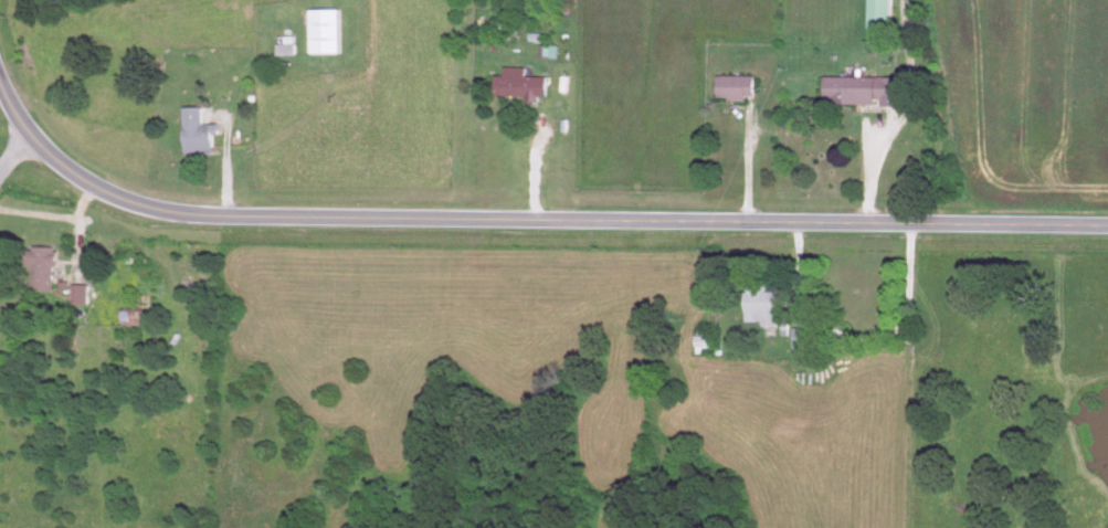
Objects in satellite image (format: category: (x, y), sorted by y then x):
building: (874, 14)
building: (321, 32)
building: (515, 85)
building: (731, 88)
building: (855, 92)
building: (196, 135)
road: (15, 152)
road: (225, 163)
road: (746, 165)
road: (536, 167)
road: (873, 169)
road: (530, 219)
building: (34, 271)
road: (798, 273)
building: (76, 296)
building: (758, 307)
building: (698, 342)

